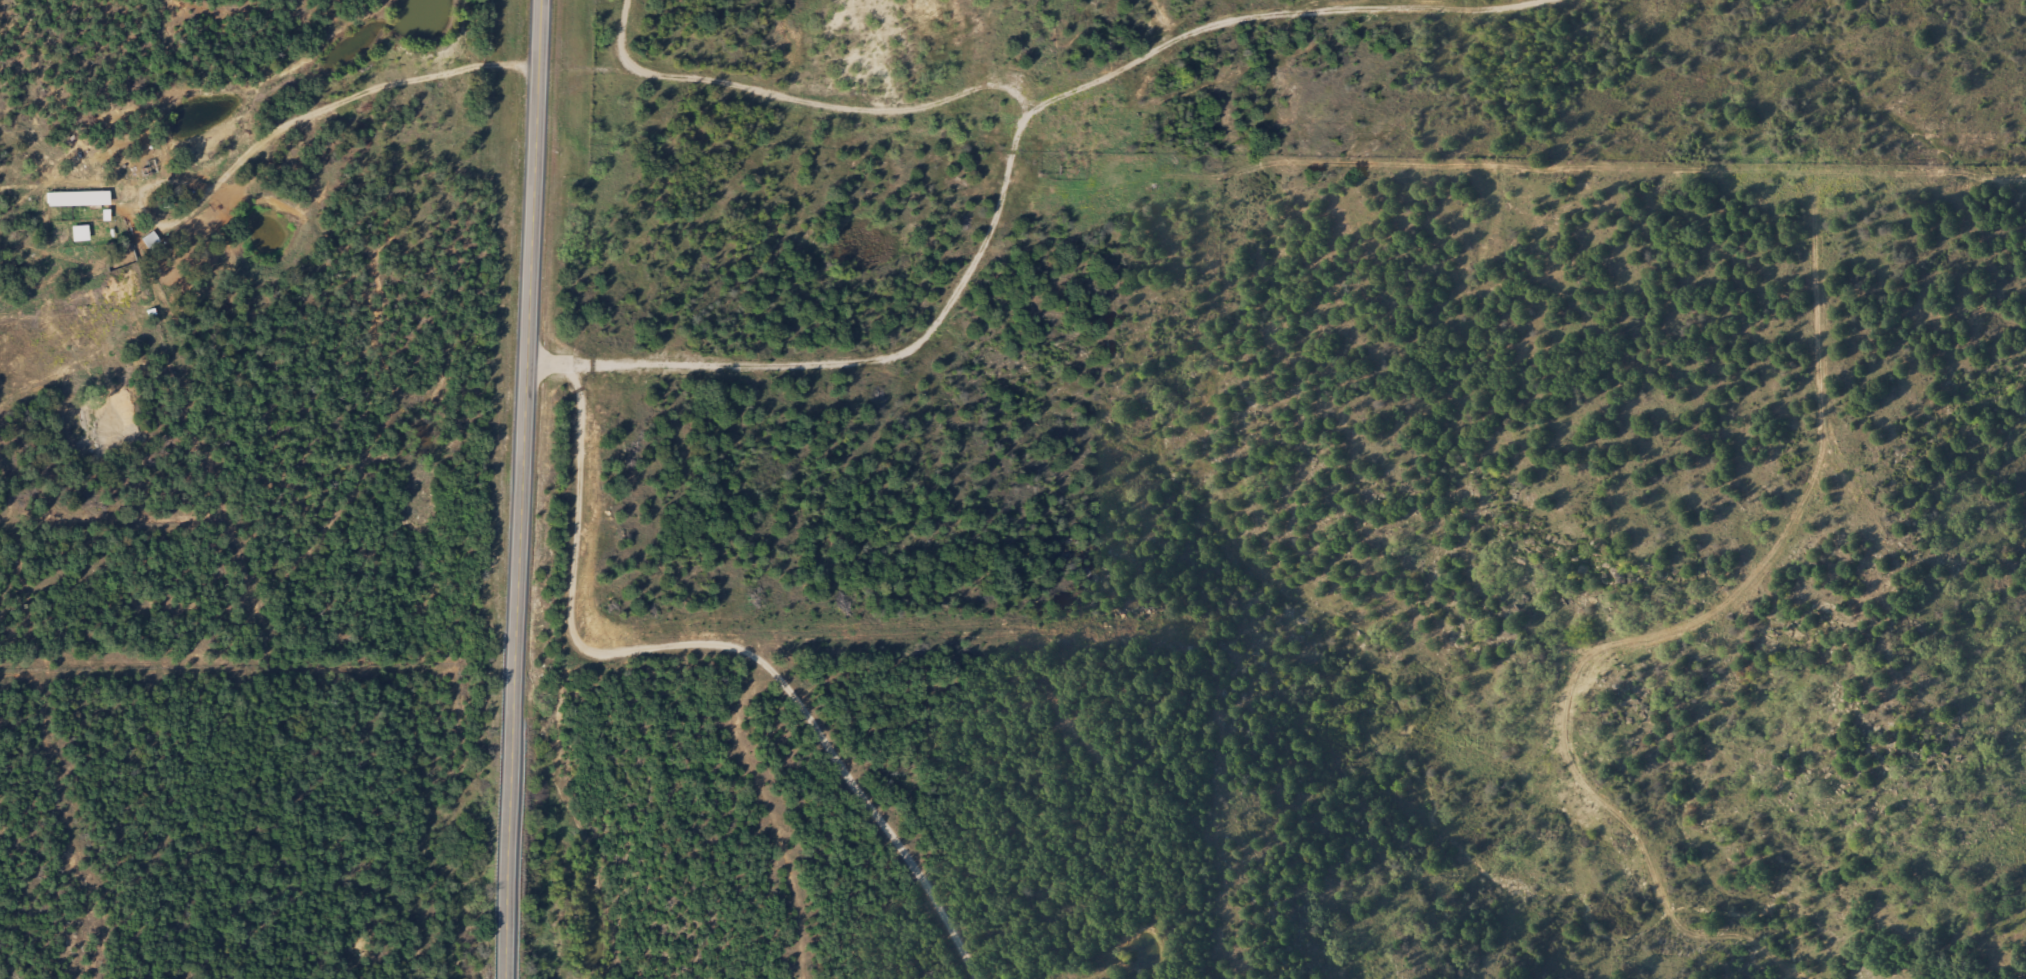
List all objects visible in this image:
building: (77, 198)
building: (79, 232)
road: (202, 234)
building: (149, 239)
road: (519, 489)

